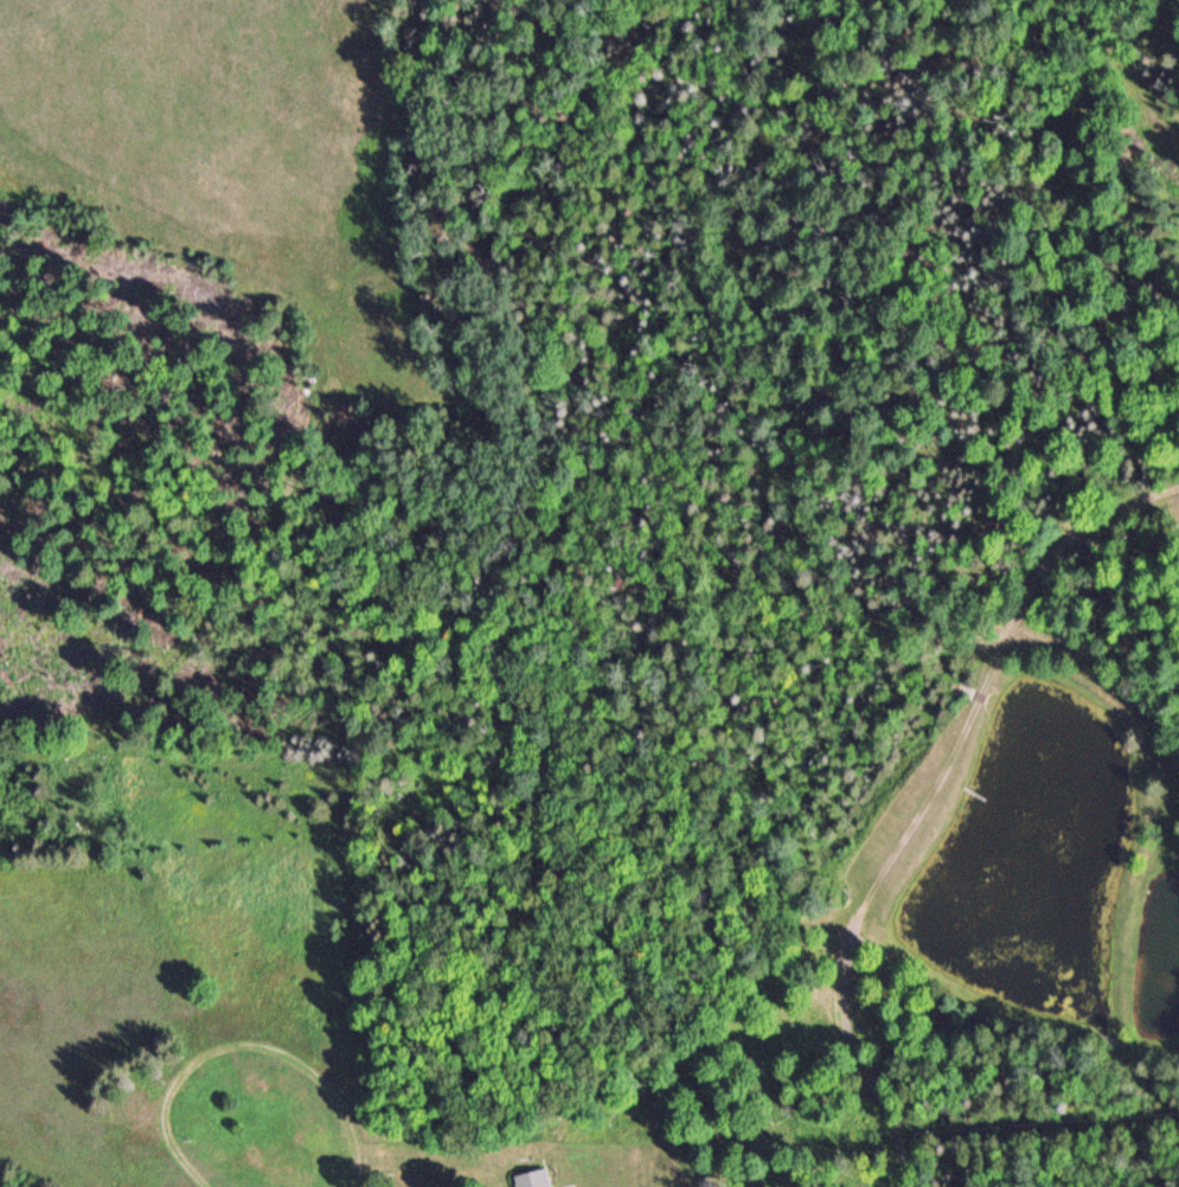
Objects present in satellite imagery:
road: (254, 1047)
building: (533, 1178)

